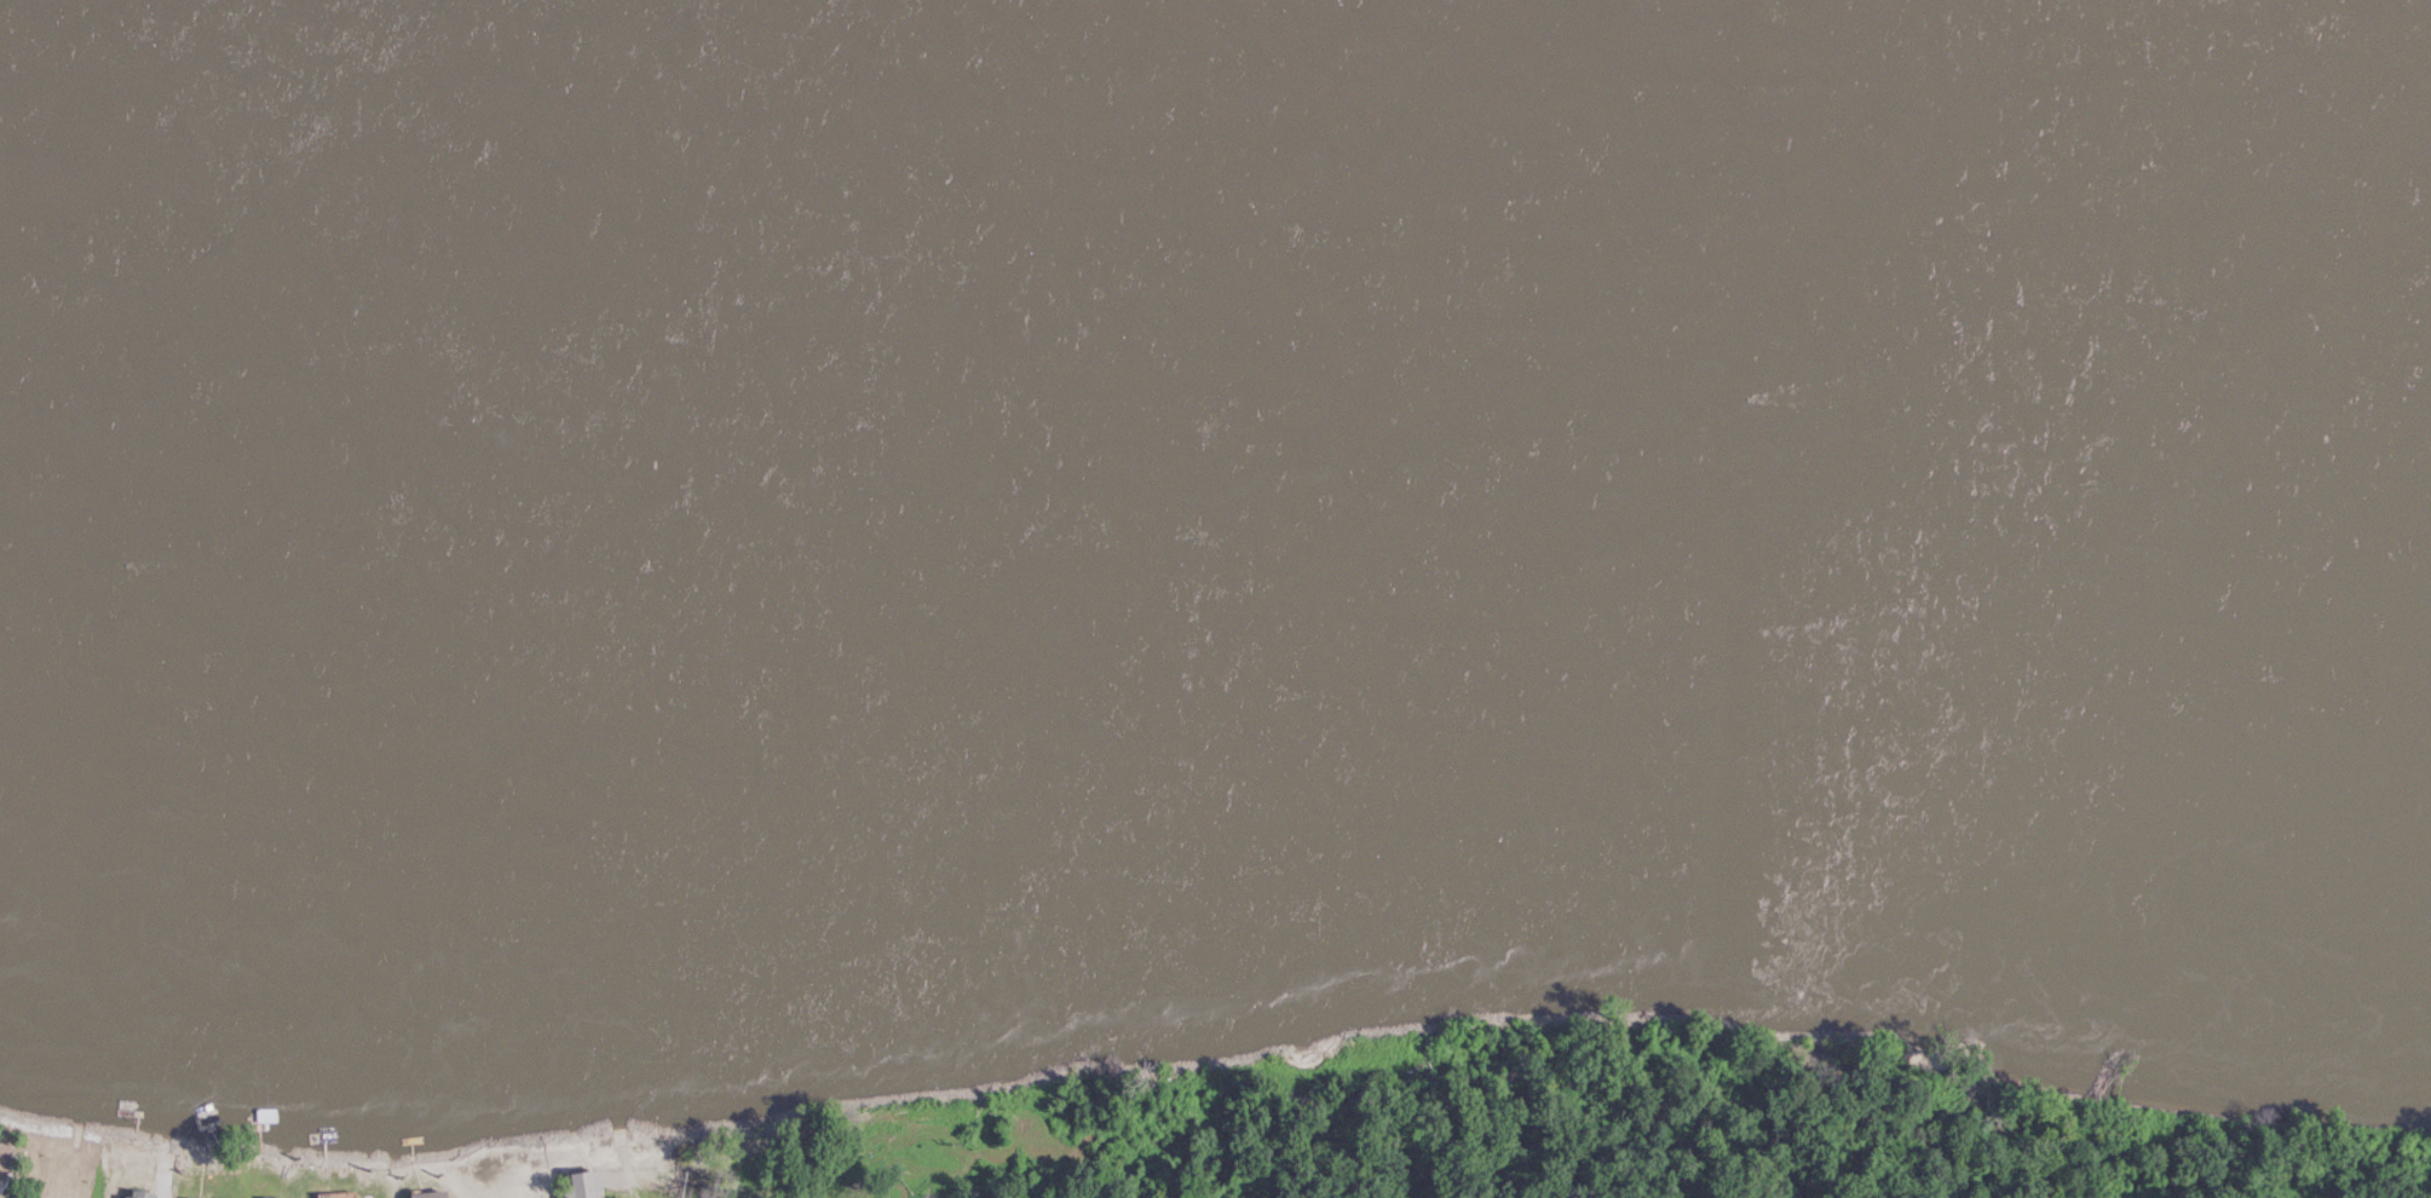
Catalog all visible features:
river: (1130, 205)

